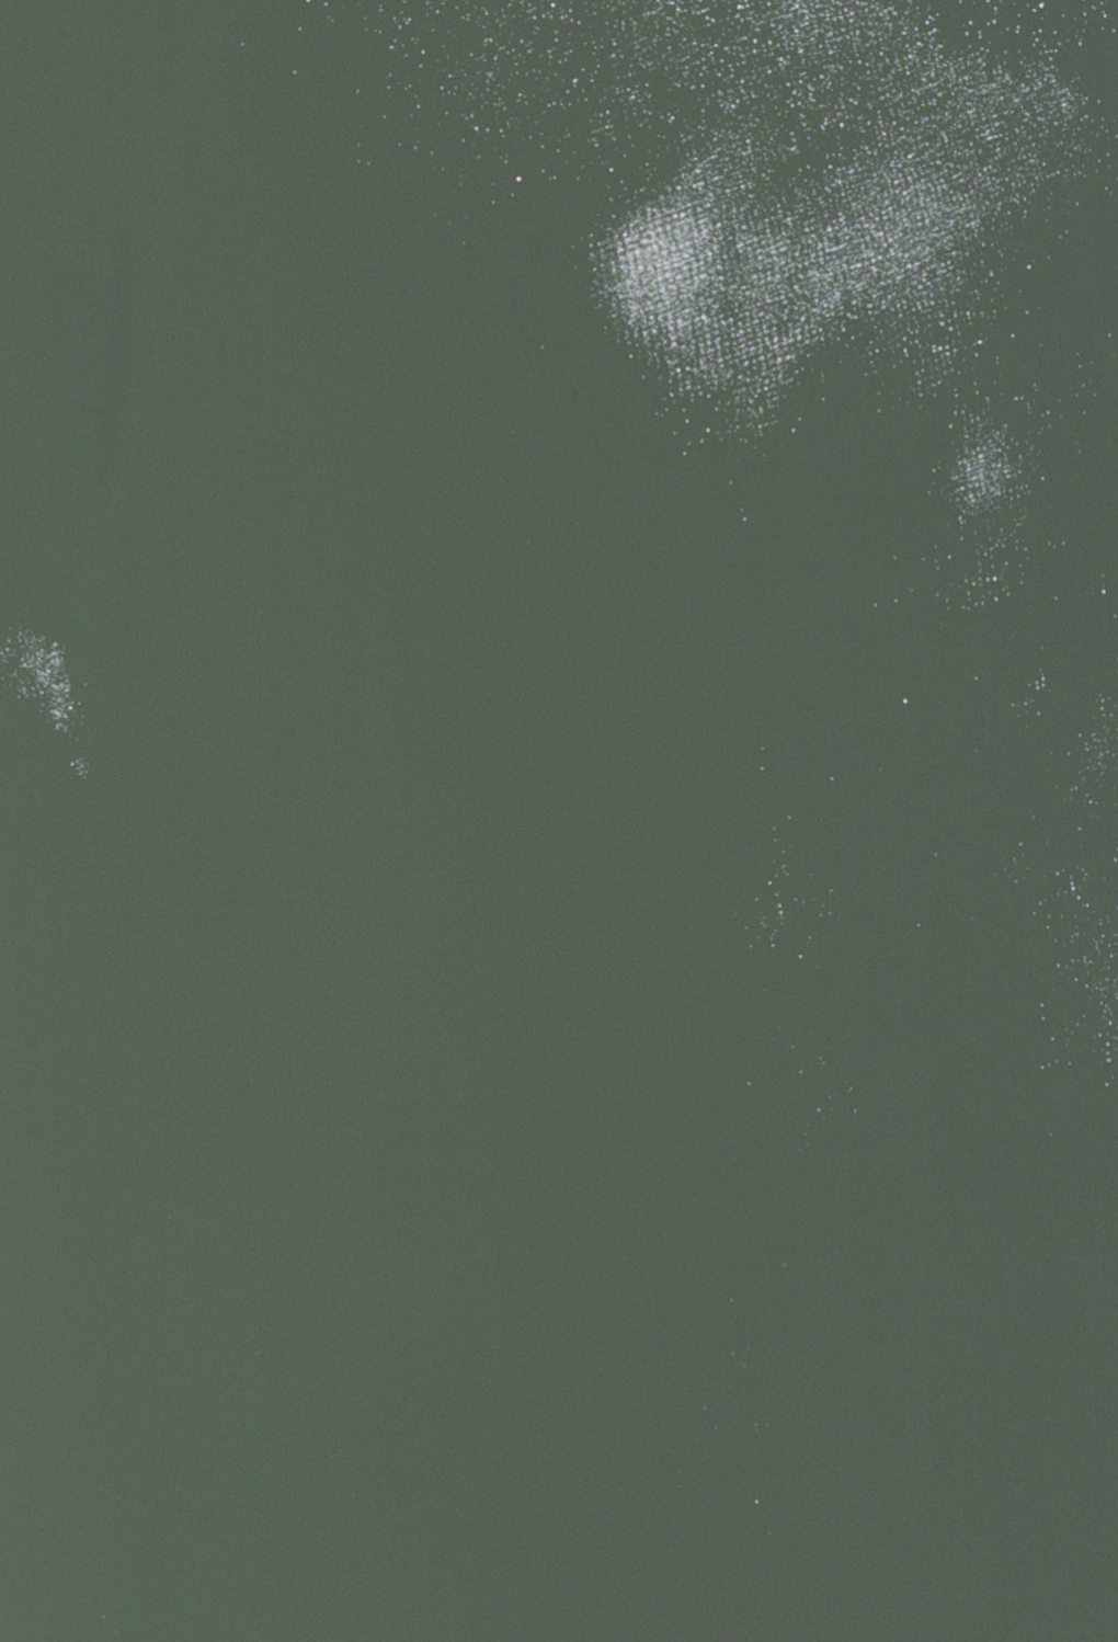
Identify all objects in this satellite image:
river: (1083, 100)

